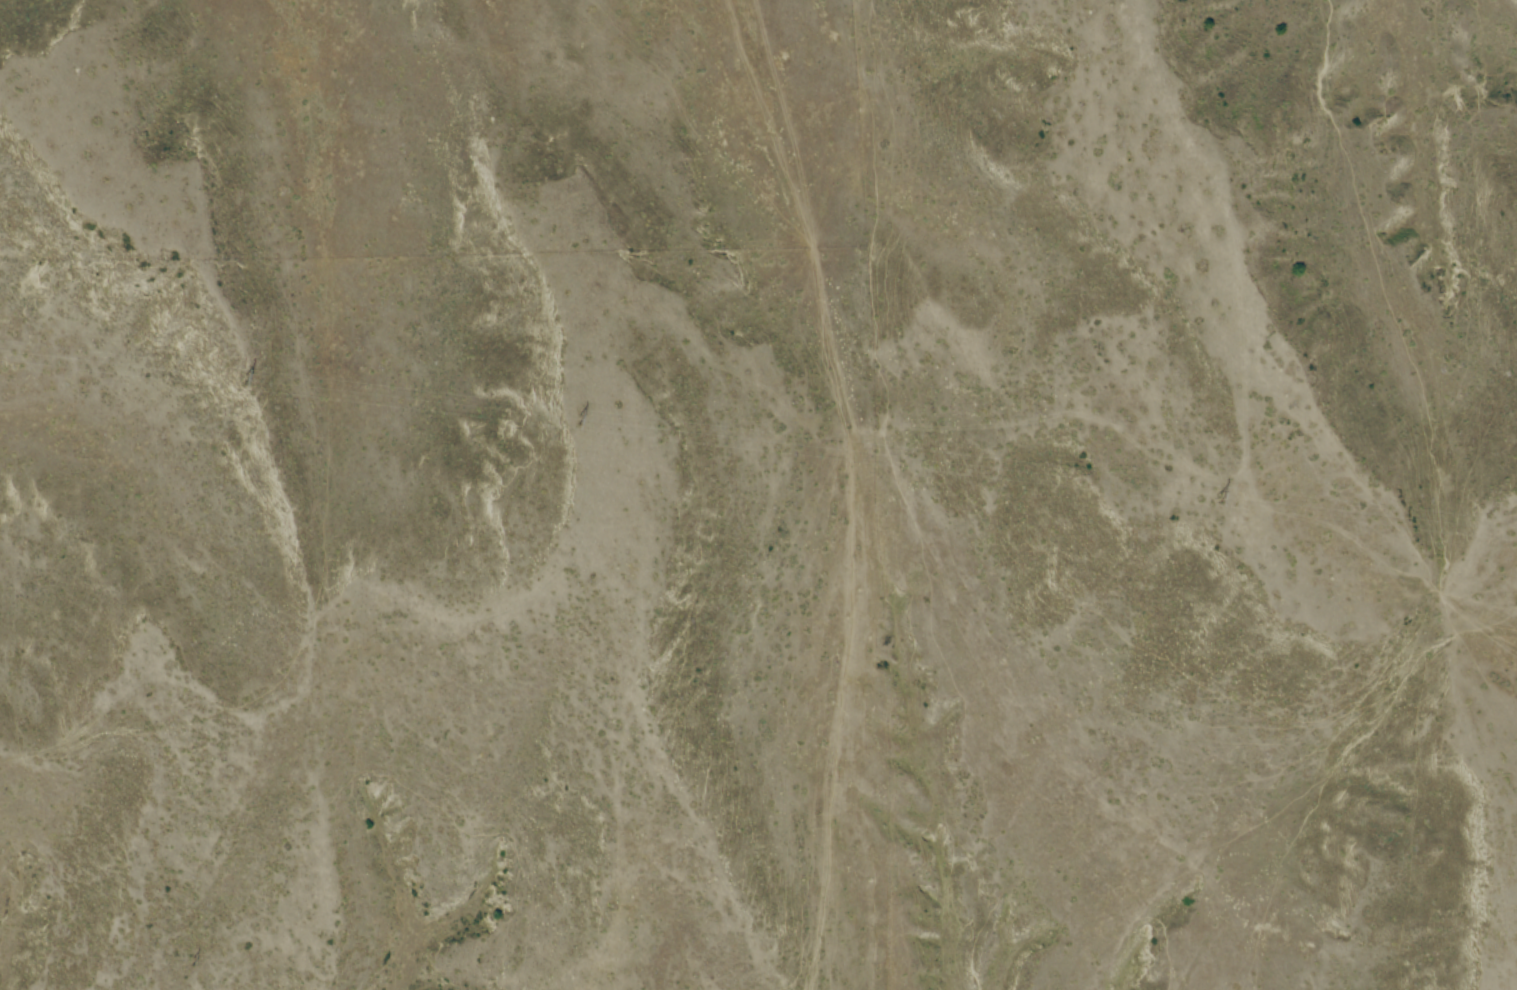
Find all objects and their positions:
power tower: (241, 381)
power tower: (576, 421)
power tower: (1218, 497)

